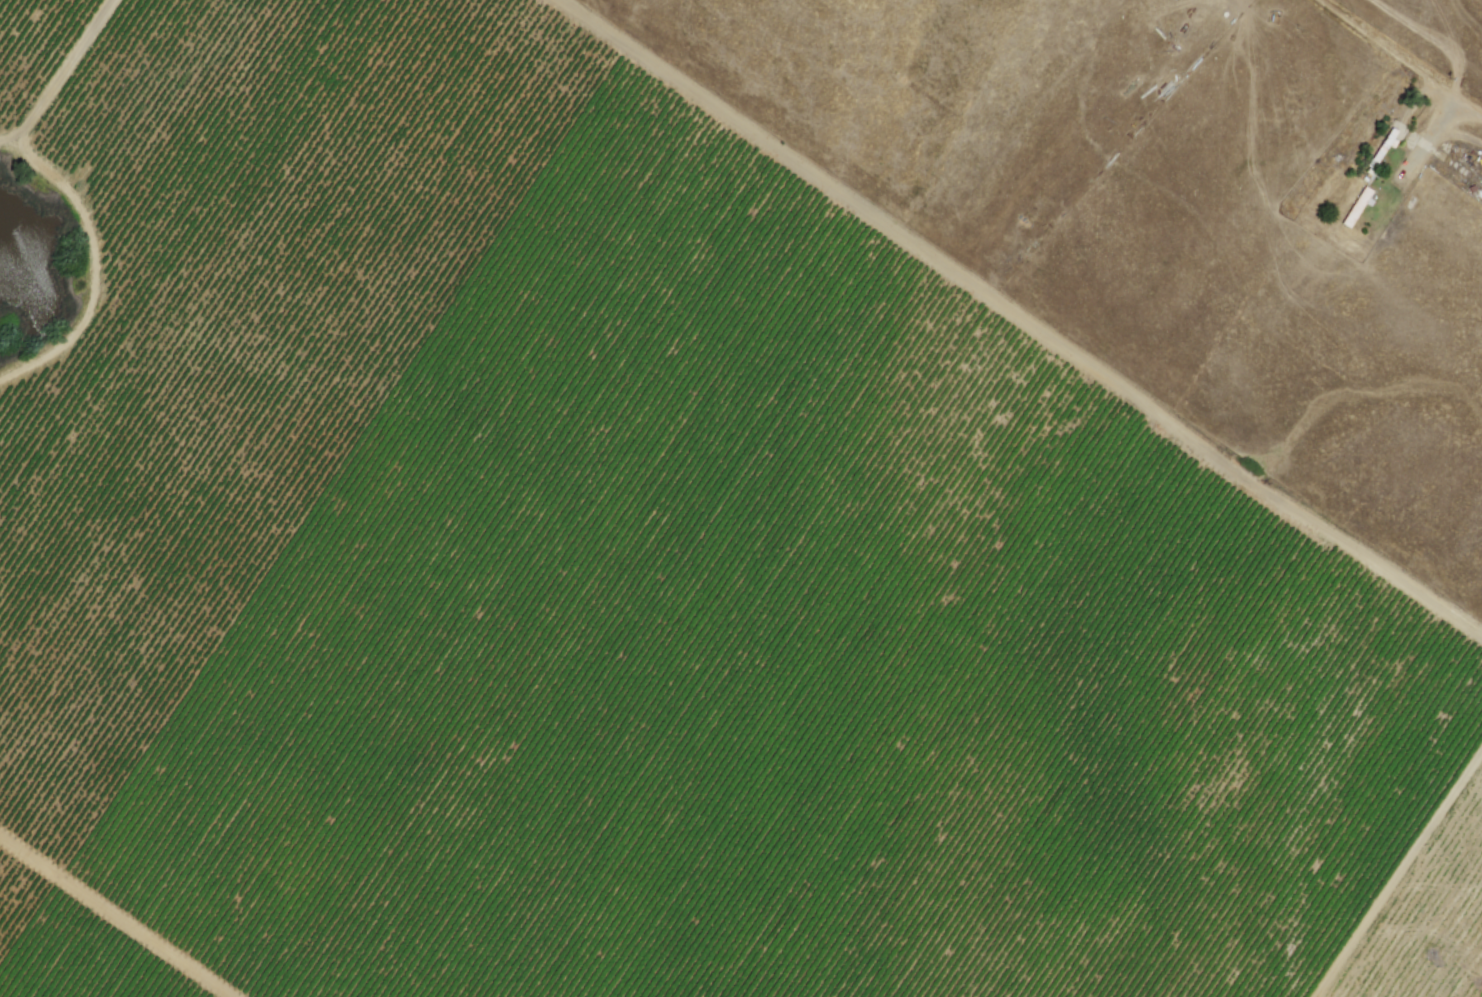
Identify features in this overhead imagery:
road: (1436, 127)

